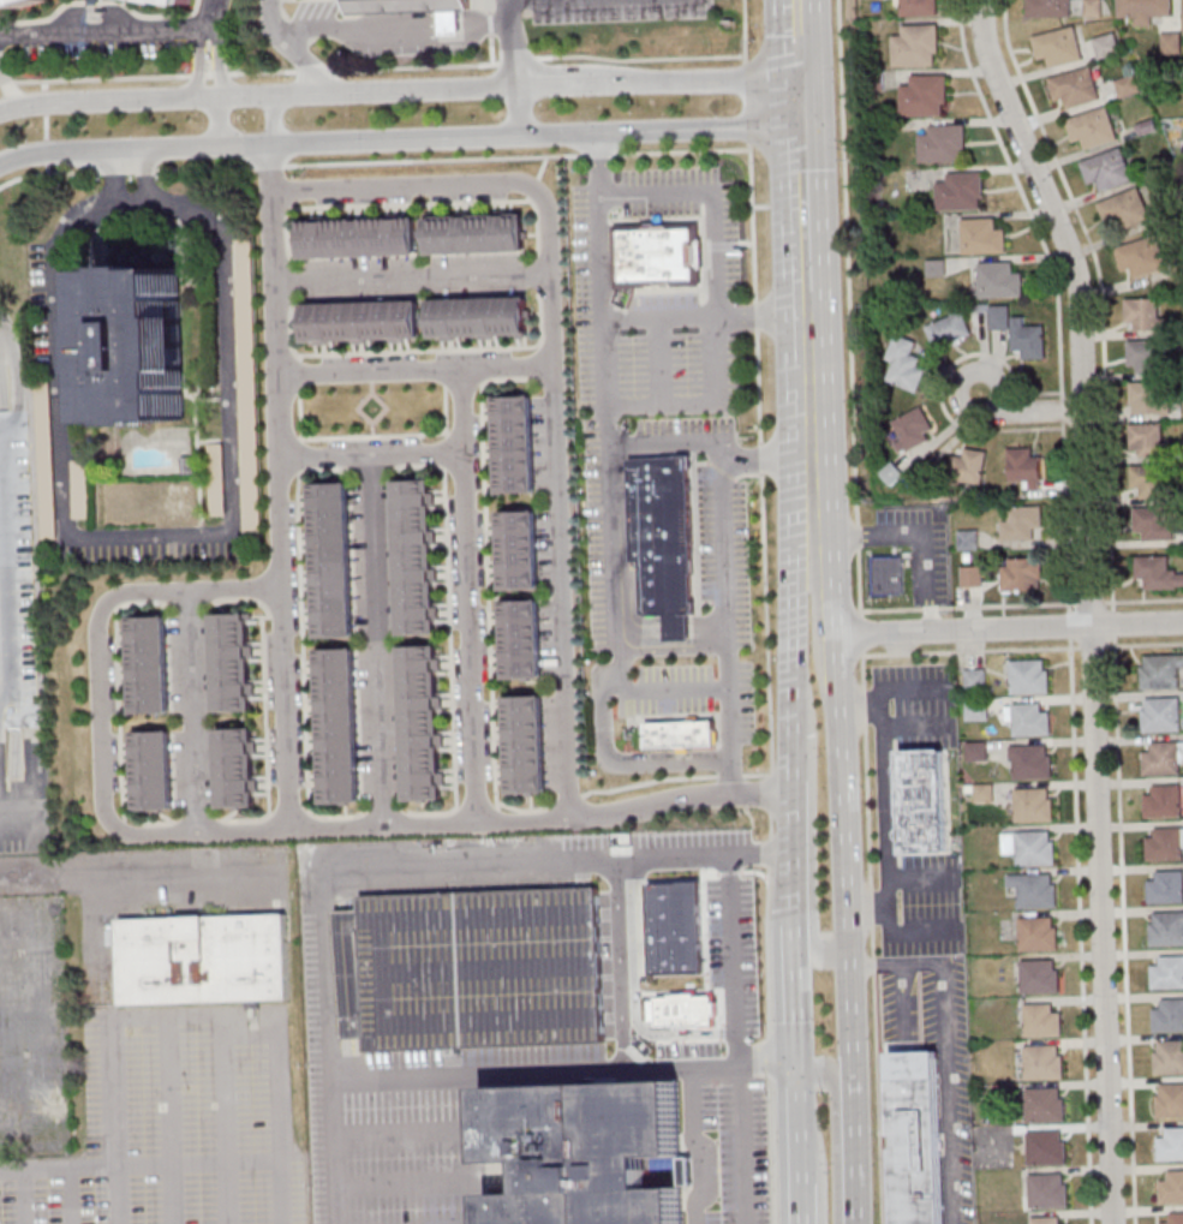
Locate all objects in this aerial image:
building: (14, 4)
building: (183, 4)
building: (918, 7)
building: (1093, 7)
building: (1048, 8)
building: (1143, 10)
building: (450, 25)
road: (390, 29)
road: (119, 30)
road: (745, 31)
road: (793, 37)
road: (508, 46)
building: (916, 46)
building: (1056, 47)
building: (1106, 47)
road: (289, 49)
road: (213, 61)
road: (372, 67)
traffic signals: (794, 76)
road: (44, 85)
building: (1128, 86)
building: (1074, 88)
road: (396, 92)
building: (925, 95)
road: (794, 97)
road: (44, 100)
road: (518, 114)
traffic signals: (795, 119)
road: (274, 120)
road: (217, 123)
road: (46, 126)
building: (1091, 127)
road: (396, 142)
building: (943, 143)
road: (46, 153)
road: (47, 168)
building: (1106, 169)
road: (97, 171)
road: (495, 181)
road: (796, 189)
building: (961, 191)
road: (713, 197)
building: (1123, 210)
building: (477, 232)
building: (359, 237)
building: (981, 237)
building: (657, 253)
building: (1141, 256)
road: (412, 271)
building: (998, 280)
road: (800, 289)
road: (1099, 292)
road: (1054, 293)
road: (1079, 304)
building: (1143, 315)
road: (610, 317)
building: (479, 318)
building: (362, 322)
building: (949, 330)
building: (1020, 333)
road: (801, 339)
building: (143, 345)
road: (718, 354)
building: (1147, 357)
road: (661, 359)
building: (906, 363)
road: (414, 368)
road: (987, 372)
road: (14, 374)
road: (607, 381)
building: (1151, 398)
building: (912, 429)
building: (1147, 441)
building: (514, 444)
road: (372, 455)
building: (969, 466)
building: (1026, 466)
building: (891, 473)
building: (46, 480)
building: (1151, 482)
road: (281, 486)
building: (80, 489)
building: (217, 506)
building: (1021, 521)
building: (1155, 524)
building: (661, 537)
road: (156, 539)
building: (968, 539)
building: (519, 550)
building: (416, 556)
building: (331, 561)
road: (794, 567)
road: (614, 568)
building: (1157, 573)
road: (725, 574)
building: (1021, 574)
building: (888, 575)
building: (972, 575)
road: (557, 589)
road: (468, 592)
road: (1146, 601)
road: (1088, 603)
road: (858, 611)
road: (5, 617)
road: (97, 619)
road: (1008, 629)
road: (377, 639)
building: (521, 639)
road: (1021, 650)
building: (233, 662)
building: (149, 665)
building: (1160, 671)
building: (1027, 677)
building: (973, 680)
road: (192, 707)
building: (975, 710)
building: (1160, 715)
road: (836, 721)
building: (1028, 721)
building: (423, 722)
building: (337, 728)
building: (680, 735)
building: (525, 745)
building: (974, 751)
building: (1161, 758)
building: (1030, 763)
road: (620, 765)
building: (237, 768)
building: (153, 770)
building: (981, 793)
building: (924, 801)
building: (1163, 802)
building: (1032, 806)
road: (449, 819)
building: (1164, 844)
road: (795, 846)
building: (1034, 849)
road: (763, 852)
road: (520, 858)
building: (1165, 888)
building: (1034, 891)
road: (1100, 924)
building: (1166, 930)
road: (797, 931)
building: (1035, 935)
building: (203, 959)
road: (819, 960)
road: (886, 965)
building: (519, 968)
parking garage: (519, 968)
building: (1167, 973)
building: (1038, 977)
road: (799, 1014)
building: (1167, 1016)
building: (1040, 1021)
road: (97, 1032)
road: (273, 1035)
building: (1167, 1058)
building: (1040, 1063)
road: (824, 1071)
road: (496, 1074)
traffic signals: (800, 1081)
road: (945, 1092)
building: (1169, 1100)
building: (1041, 1105)
road: (800, 1113)
road: (402, 1135)
building: (915, 1138)
road: (740, 1144)
building: (1170, 1146)
building: (1044, 1148)
road: (470, 1150)
building: (582, 1151)
road: (849, 1154)
road: (192, 1164)
road: (404, 1182)
road: (801, 1186)
building: (1171, 1189)
building: (1045, 1192)
road: (226, 1193)
road: (173, 1194)
road: (118, 1196)
road: (71, 1198)
road: (24, 1199)
building: (1175, 1218)
building: (1044, 1220)

